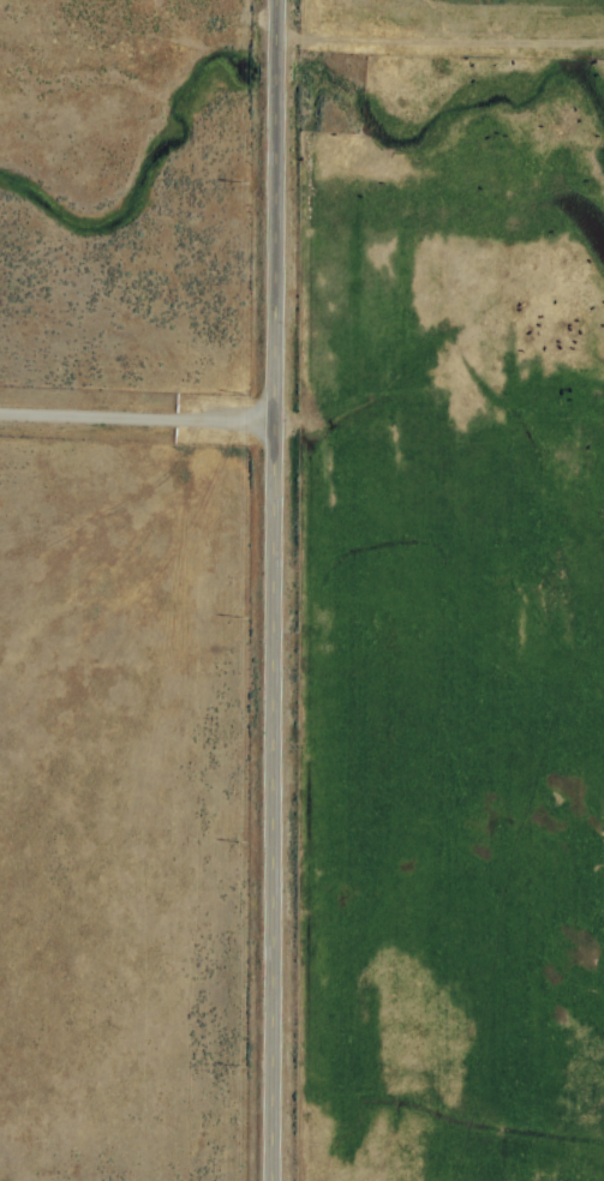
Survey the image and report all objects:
road: (138, 420)
road: (275, 589)
crop: (301, 590)

